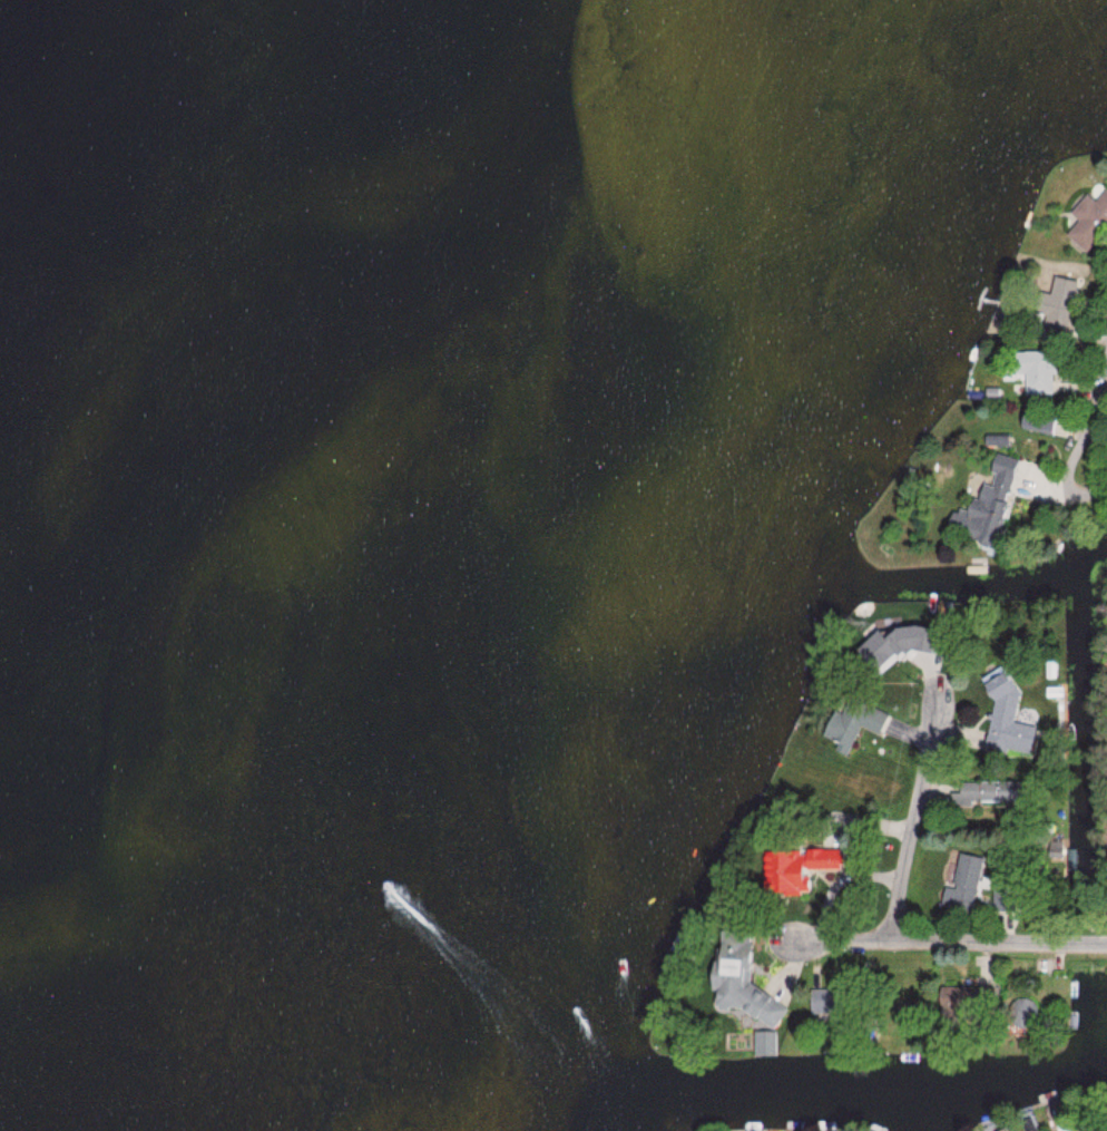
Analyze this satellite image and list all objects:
building: (1089, 220)
building: (1058, 301)
building: (1035, 368)
road: (1096, 404)
building: (889, 645)
building: (1007, 719)
building: (986, 792)
road: (918, 821)
building: (969, 871)
road: (947, 942)
building: (739, 986)
building: (1064, 1129)

